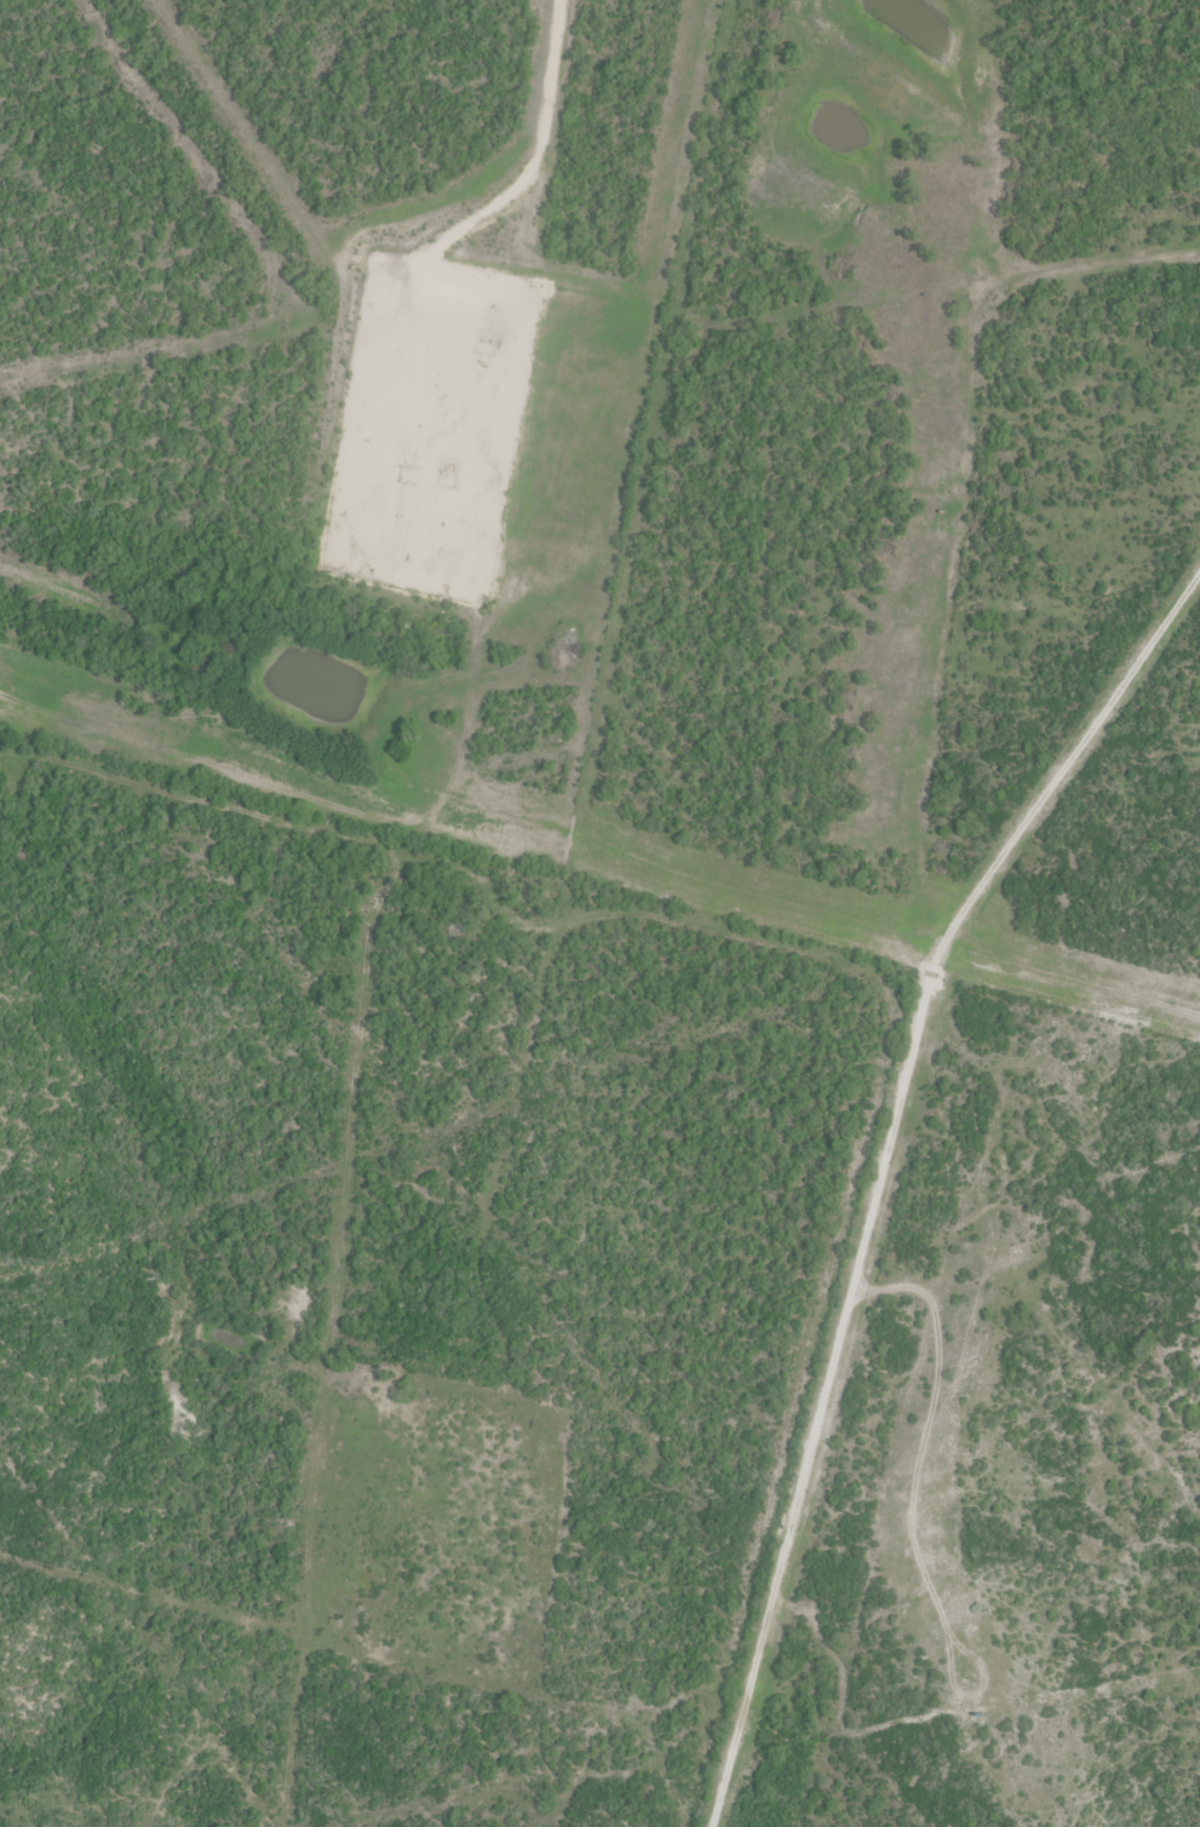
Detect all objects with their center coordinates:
road: (481, 624)

